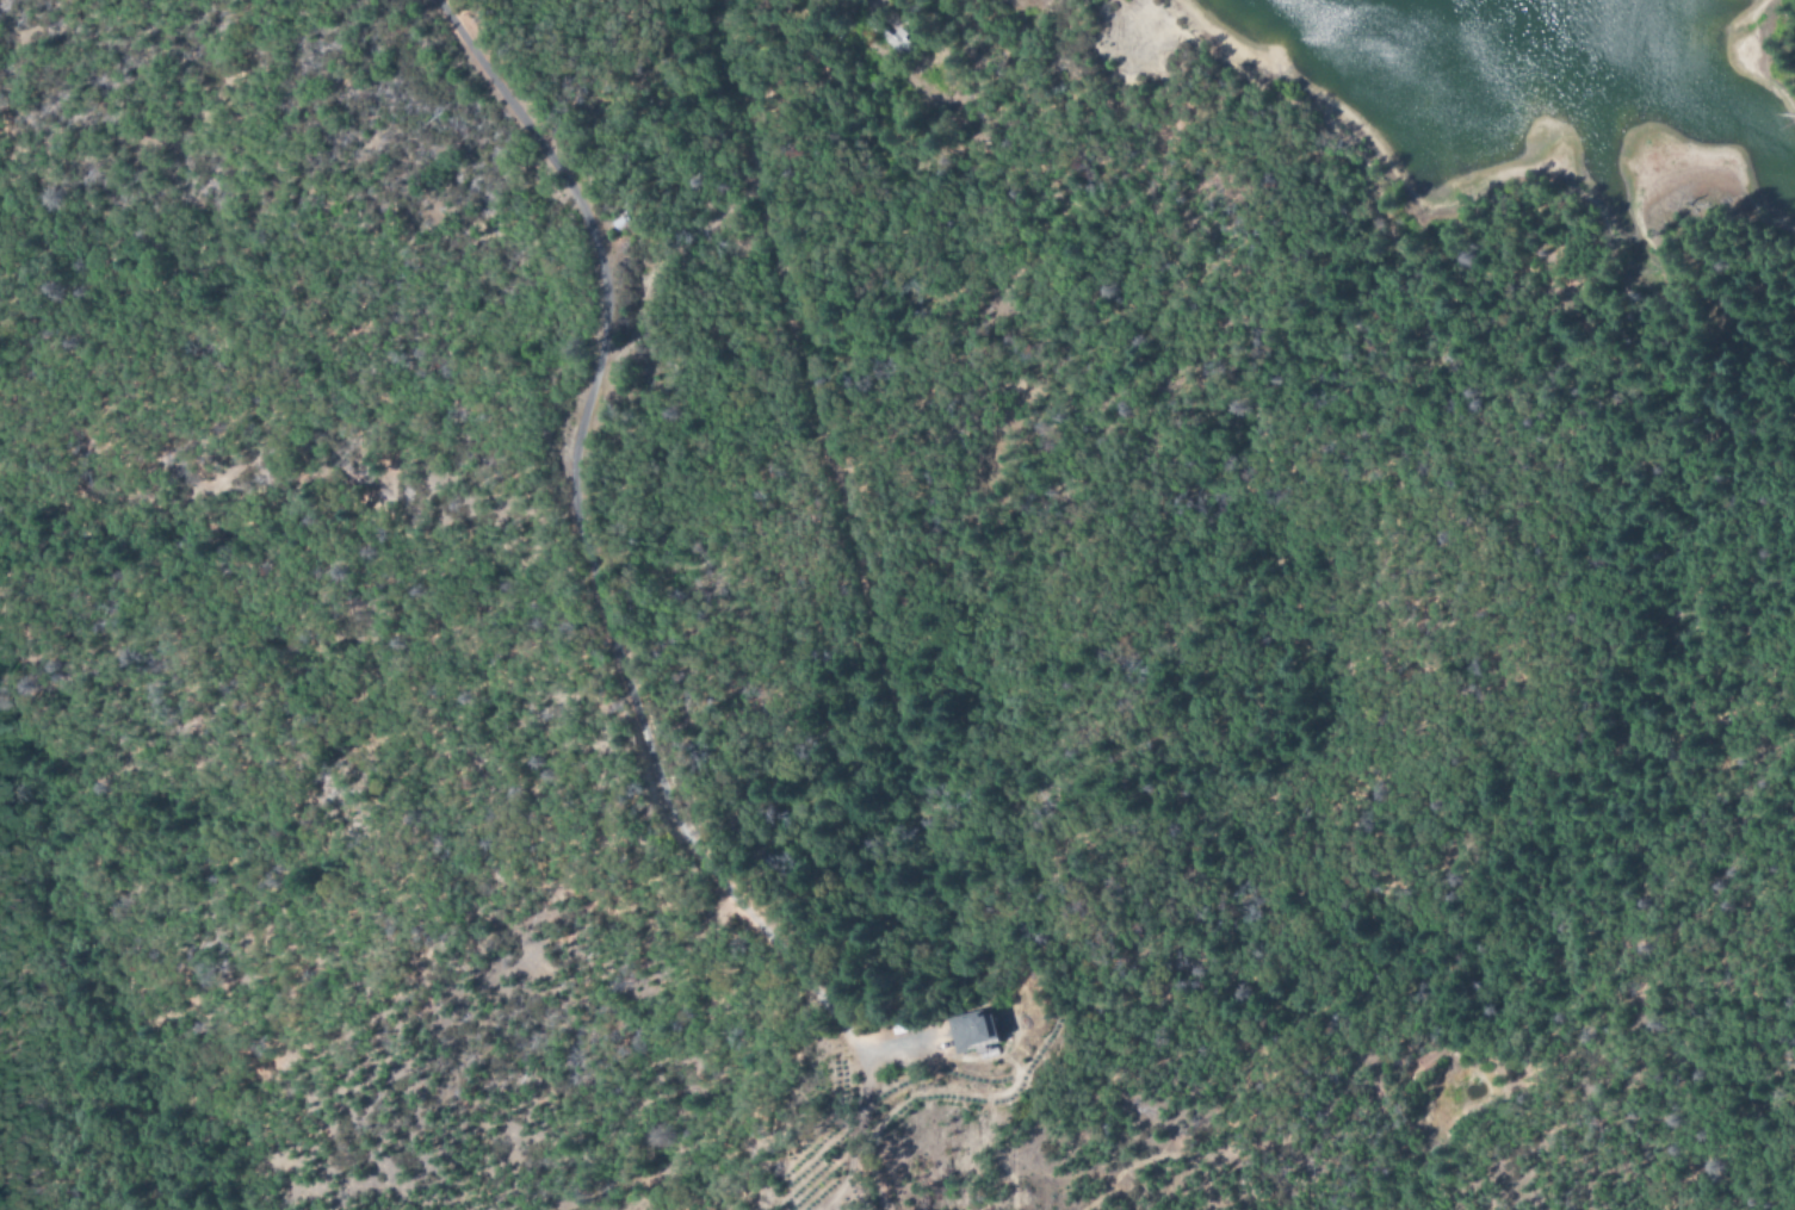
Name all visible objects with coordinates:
road: (584, 417)
building: (984, 1034)

